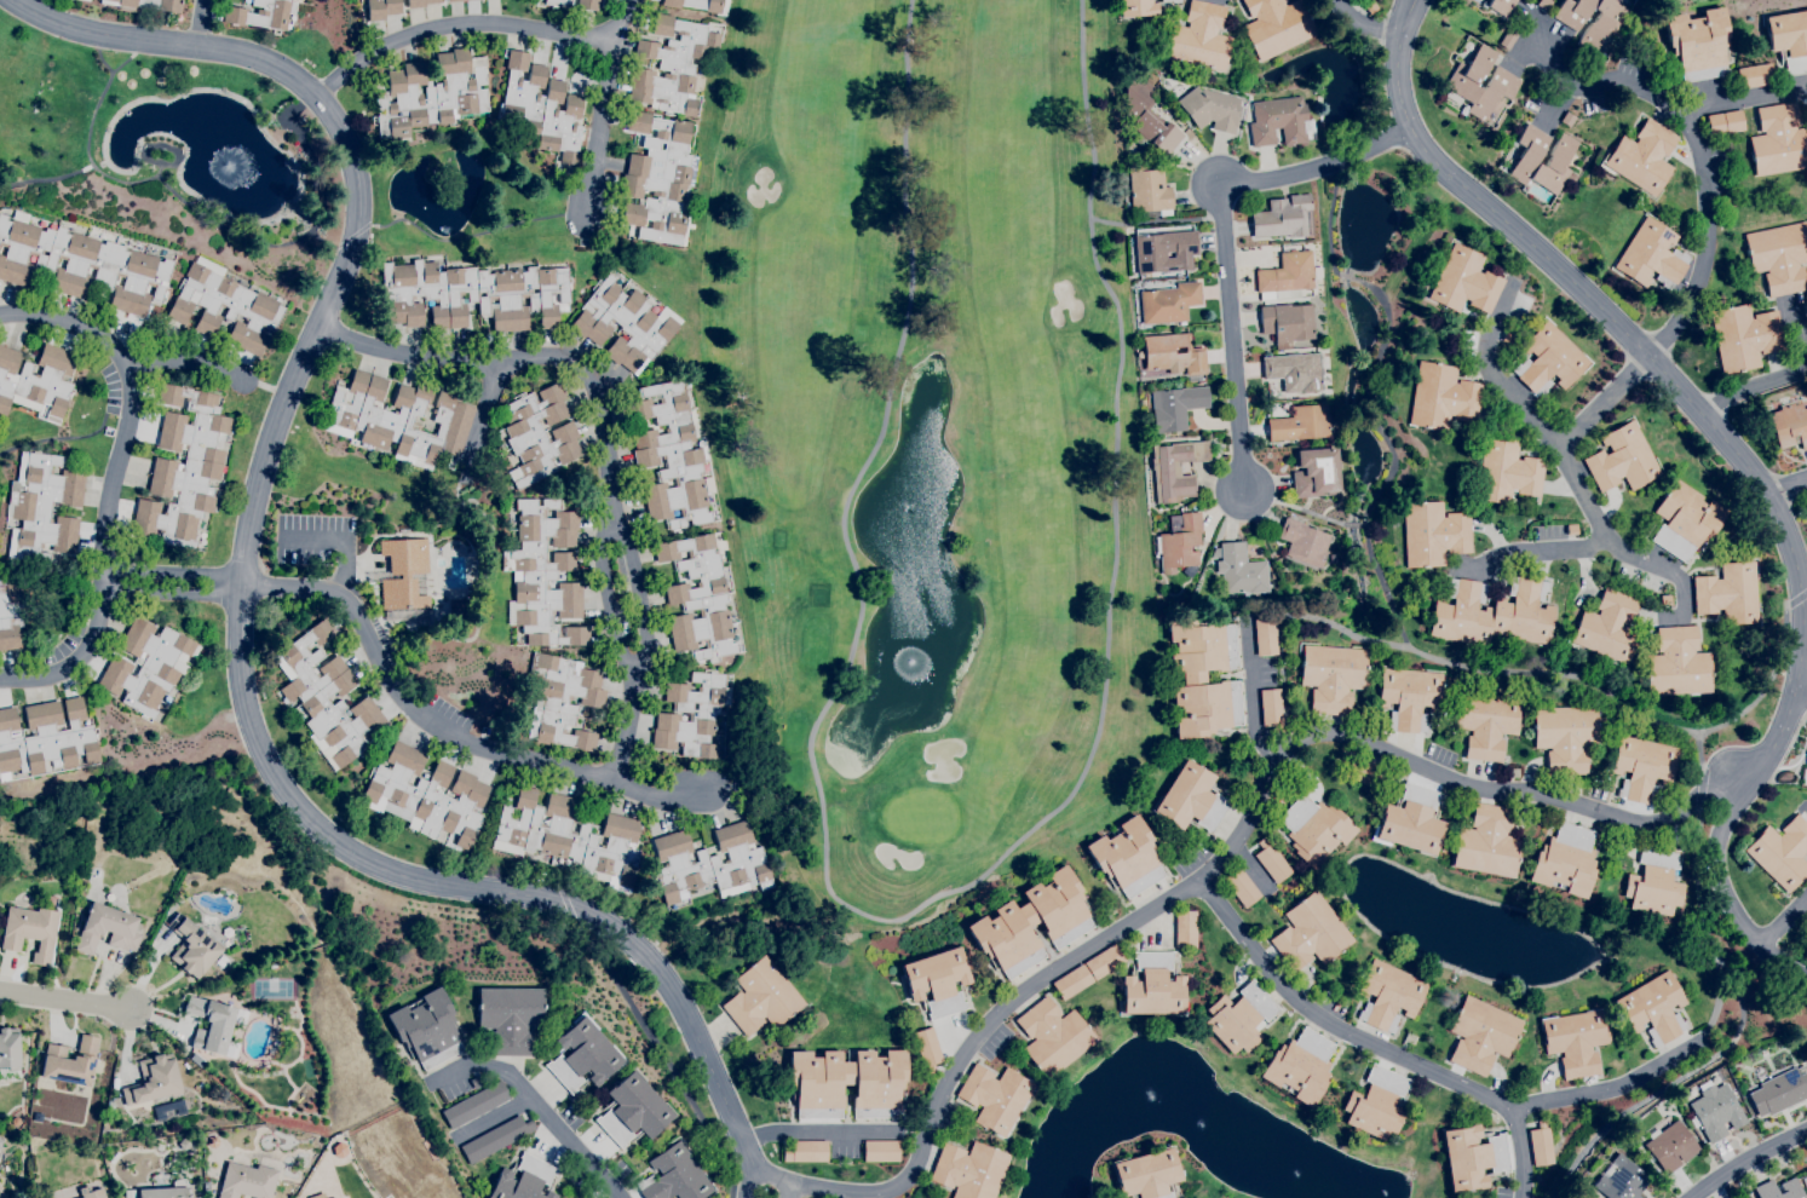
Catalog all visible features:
building: (86, 0)
building: (453, 0)
building: (1164, 0)
building: (1175, 0)
building: (419, 2)
building: (559, 2)
building: (145, 4)
building: (588, 4)
building: (1544, 4)
building: (700, 5)
building: (1500, 6)
building: (1136, 7)
building: (1370, 7)
building: (381, 8)
building: (261, 13)
road: (626, 19)
building: (1592, 19)
road: (1370, 21)
road: (200, 23)
road: (456, 24)
building: (1276, 25)
building: (1201, 38)
building: (1508, 38)
building: (1789, 40)
building: (1698, 44)
building: (671, 65)
building: (1754, 75)
building: (1500, 86)
building: (432, 93)
road: (1744, 99)
building: (542, 108)
building: (1212, 109)
building: (1146, 116)
building: (1279, 121)
building: (1725, 122)
road: (602, 125)
building: (1778, 140)
building: (1556, 156)
building: (1642, 157)
building: (658, 179)
road: (1704, 182)
building: (1147, 190)
building: (1284, 217)
road: (353, 223)
road: (1231, 237)
building: (1162, 252)
building: (1651, 255)
building: (1779, 257)
building: (81, 264)
building: (1287, 273)
building: (1463, 281)
building: (472, 294)
building: (1169, 301)
building: (253, 306)
road: (1607, 313)
road: (75, 323)
building: (1287, 323)
building: (625, 324)
building: (1508, 336)
building: (1744, 336)
building: (1169, 355)
building: (1548, 359)
road: (192, 363)
building: (1294, 370)
road: (1785, 374)
building: (36, 380)
building: (1441, 397)
road: (1610, 399)
building: (1175, 407)
building: (397, 419)
road: (482, 419)
building: (1300, 424)
building: (1789, 425)
building: (539, 434)
road: (603, 440)
park: (945, 453)
building: (672, 456)
road: (1573, 456)
building: (1622, 459)
building: (184, 467)
building: (1175, 468)
building: (1314, 472)
building: (1506, 472)
road: (113, 473)
road: (1791, 490)
building: (42, 507)
building: (1685, 520)
building: (1571, 529)
building: (1432, 534)
road: (341, 541)
building: (1179, 541)
building: (1304, 542)
road: (1546, 547)
building: (1333, 558)
building: (1239, 569)
building: (405, 574)
building: (545, 575)
road: (172, 581)
building: (1728, 593)
building: (698, 599)
building: (1665, 599)
building: (455, 606)
building: (1492, 612)
building: (10, 614)
building: (1607, 627)
building: (1265, 637)
road: (82, 657)
building: (1679, 662)
building: (145, 666)
building: (1202, 676)
building: (1331, 676)
building: (1408, 697)
building: (326, 698)
building: (563, 699)
road: (1254, 705)
building: (1271, 707)
building: (692, 715)
building: (1486, 725)
road: (438, 731)
building: (1566, 736)
building: (45, 738)
building: (1642, 768)
building: (1806, 770)
building: (1363, 772)
building: (1512, 772)
building: (425, 795)
building: (1191, 799)
building: (1411, 820)
building: (1316, 830)
road: (1722, 833)
building: (570, 837)
building: (1486, 842)
building: (1782, 852)
building: (1127, 857)
road: (1225, 860)
building: (1272, 860)
building: (1565, 860)
building: (709, 863)
building: (1655, 881)
building: (1241, 887)
road: (514, 893)
building: (1031, 922)
building: (107, 928)
building: (1185, 928)
road: (1791, 928)
building: (30, 931)
building: (1310, 933)
building: (192, 946)
building: (221, 961)
building: (1104, 961)
building: (937, 981)
building: (1071, 981)
building: (1152, 986)
building: (1387, 995)
building: (761, 997)
road: (65, 1000)
building: (1655, 1008)
building: (1239, 1016)
building: (510, 1018)
building: (214, 1025)
road: (1341, 1025)
building: (426, 1027)
building: (1480, 1035)
building: (1053, 1036)
building: (1575, 1039)
building: (927, 1049)
building: (10, 1054)
building: (582, 1055)
building: (70, 1061)
building: (1300, 1066)
building: (152, 1079)
building: (477, 1081)
building: (847, 1083)
road: (1621, 1087)
building: (1778, 1092)
building: (995, 1096)
road: (536, 1098)
building: (474, 1104)
building: (1376, 1104)
building: (110, 1105)
building: (169, 1108)
building: (1715, 1108)
building: (632, 1110)
road: (495, 1116)
building: (15, 1121)
road: (818, 1131)
building: (495, 1137)
building: (212, 1141)
building: (0, 1142)
building: (189, 1144)
building: (1541, 1145)
building: (1670, 1145)
building: (881, 1151)
building: (806, 1152)
road: (1527, 1154)
building: (1472, 1156)
road: (1753, 1162)
building: (1806, 1169)
building: (969, 1170)
building: (1147, 1174)
building: (673, 1175)
road: (765, 1175)
building: (523, 1180)
building: (1622, 1180)
building: (247, 1181)
building: (1802, 1183)
building: (1789, 1185)
building: (206, 1186)
building: (166, 1191)
building: (91, 1192)
building: (120, 1197)
building: (194, 1197)
building: (334, 1197)

